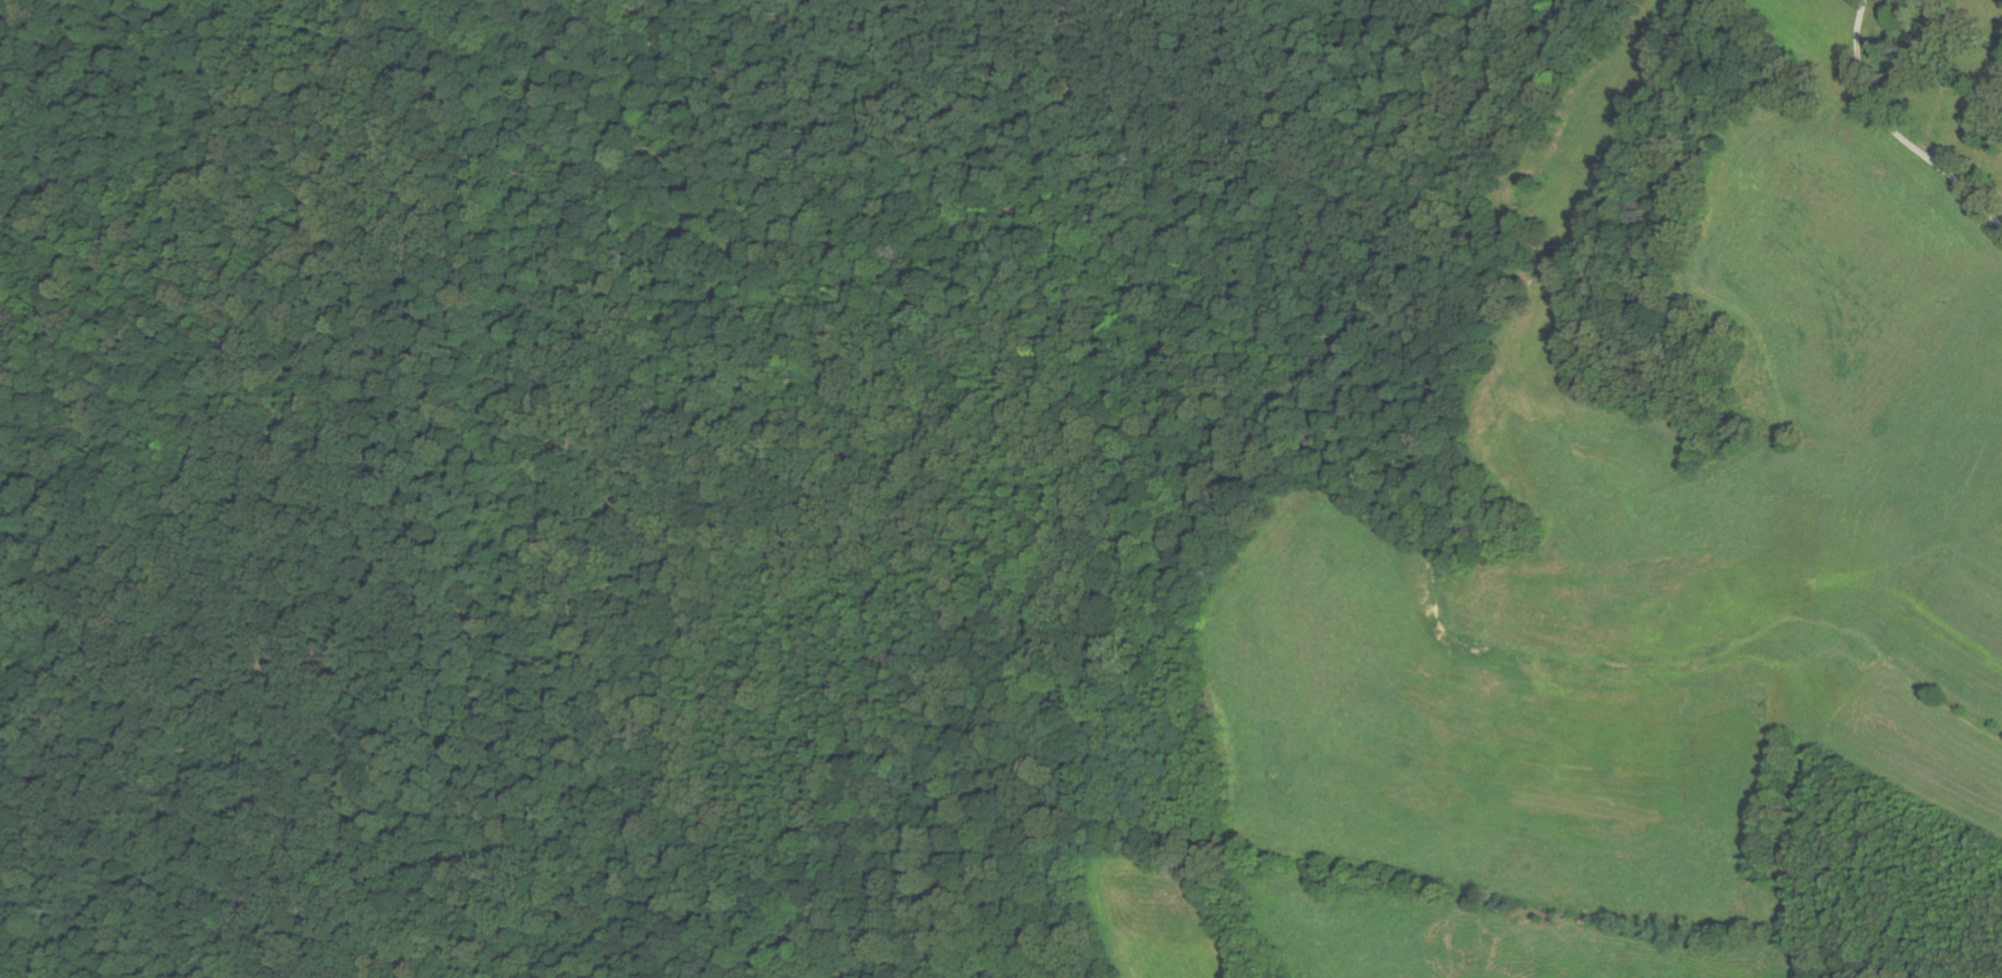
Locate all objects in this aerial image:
road: (1894, 133)

